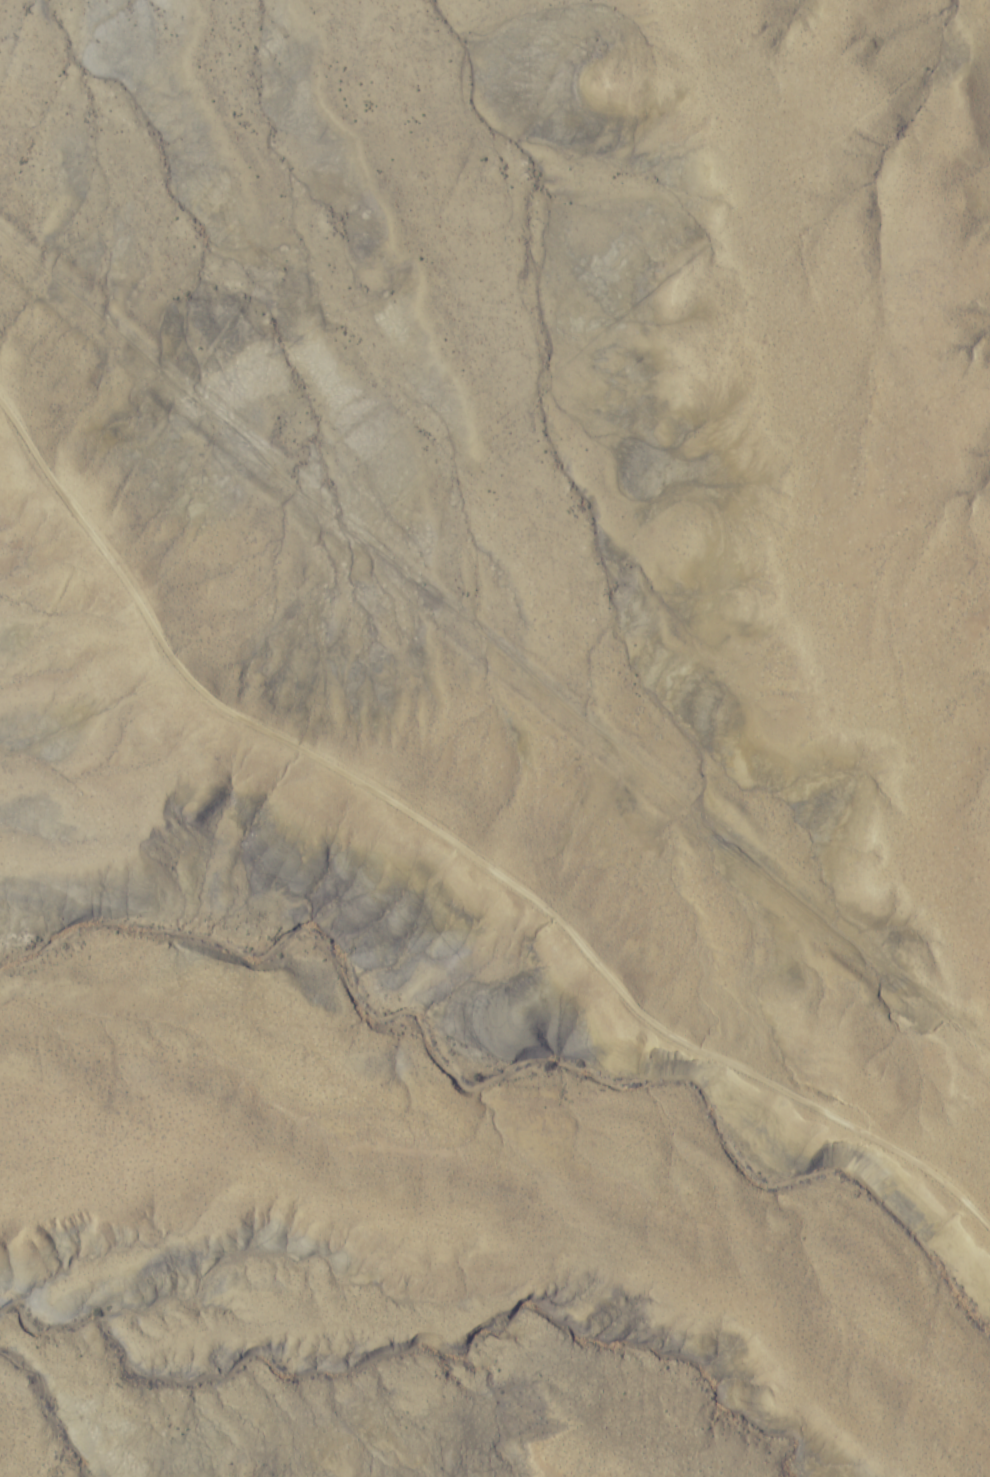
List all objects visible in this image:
road: (118, 743)
road: (463, 848)

